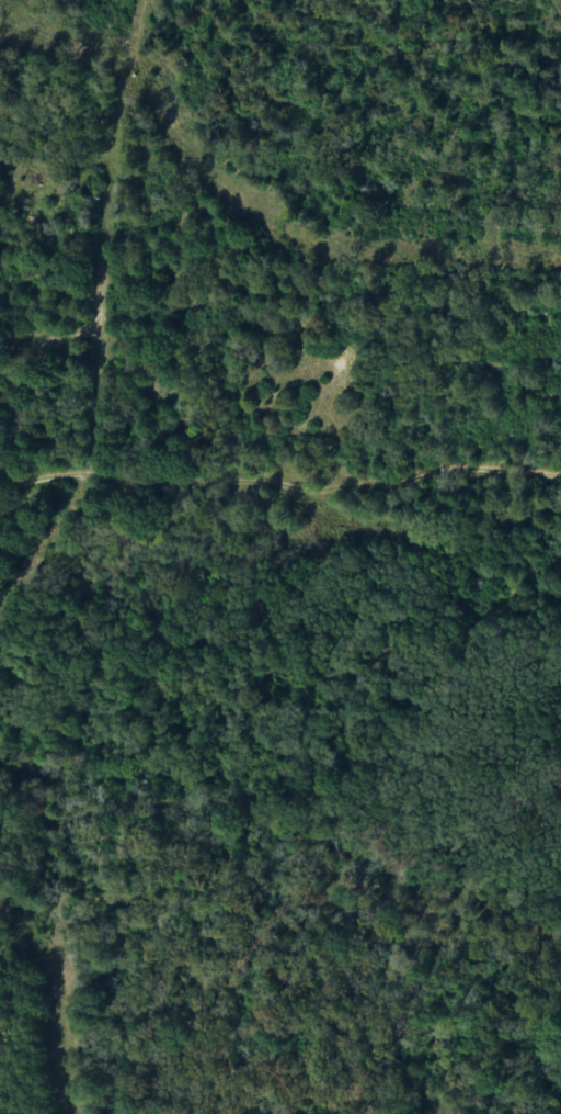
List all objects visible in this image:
road: (107, 135)
road: (9, 593)

